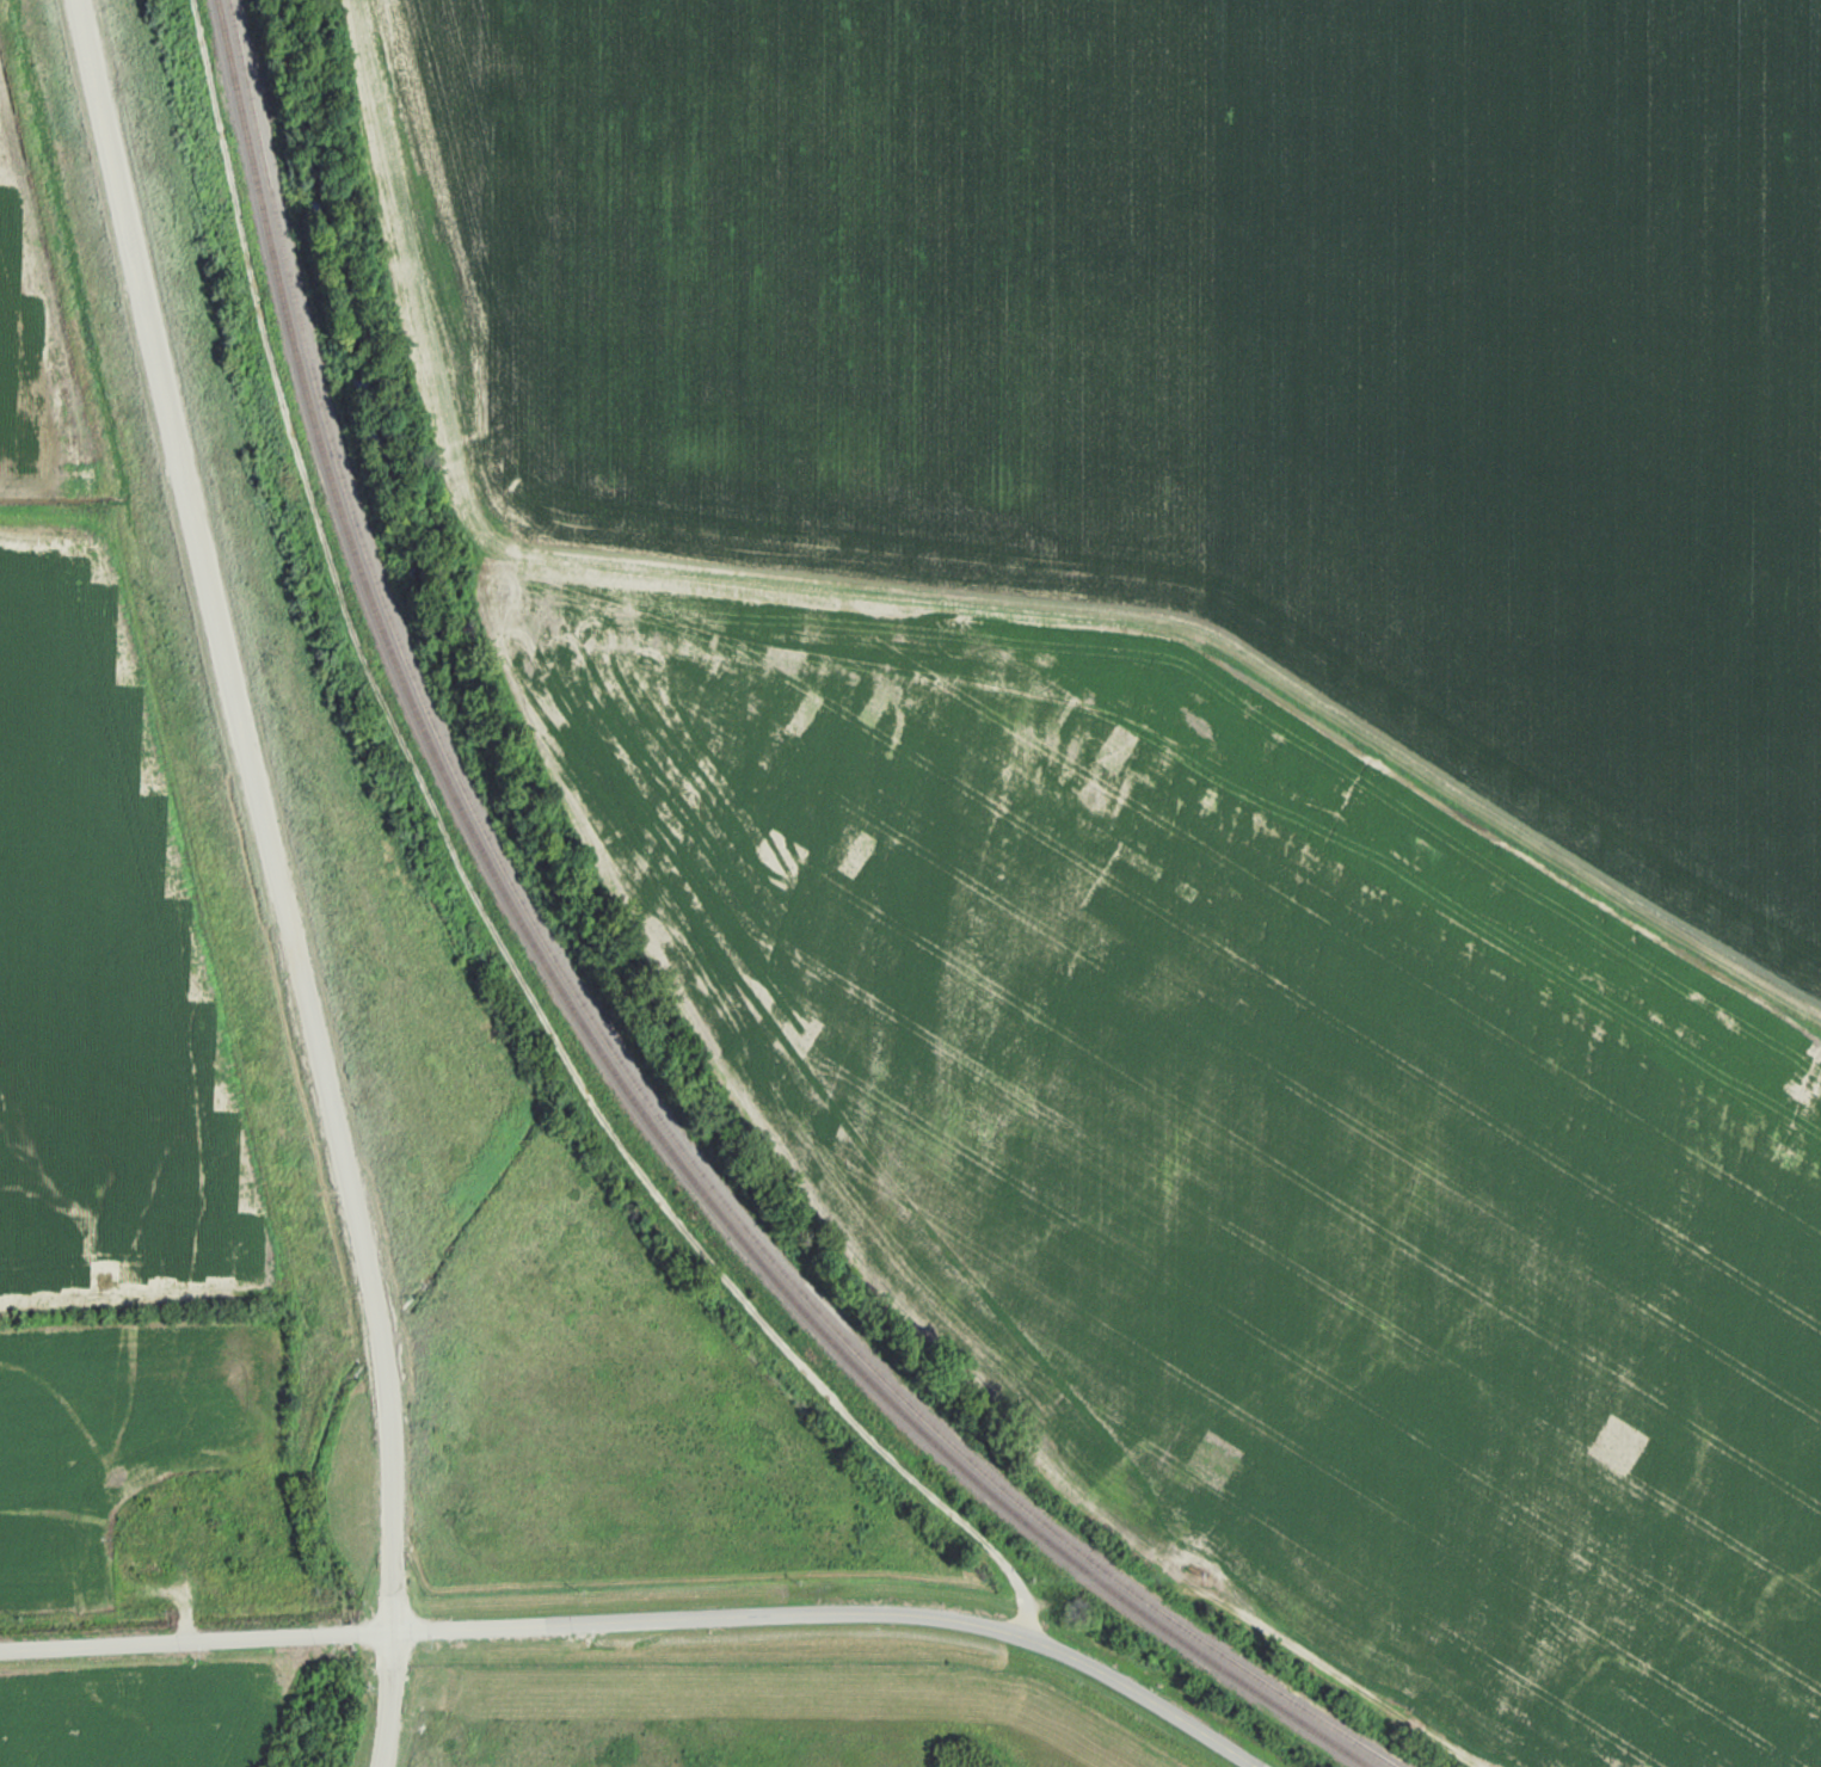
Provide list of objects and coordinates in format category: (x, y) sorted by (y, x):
road: (266, 812)
railway: (582, 1022)
railway: (597, 1026)
road: (646, 1619)
road: (1352, 1685)
road: (384, 1700)

